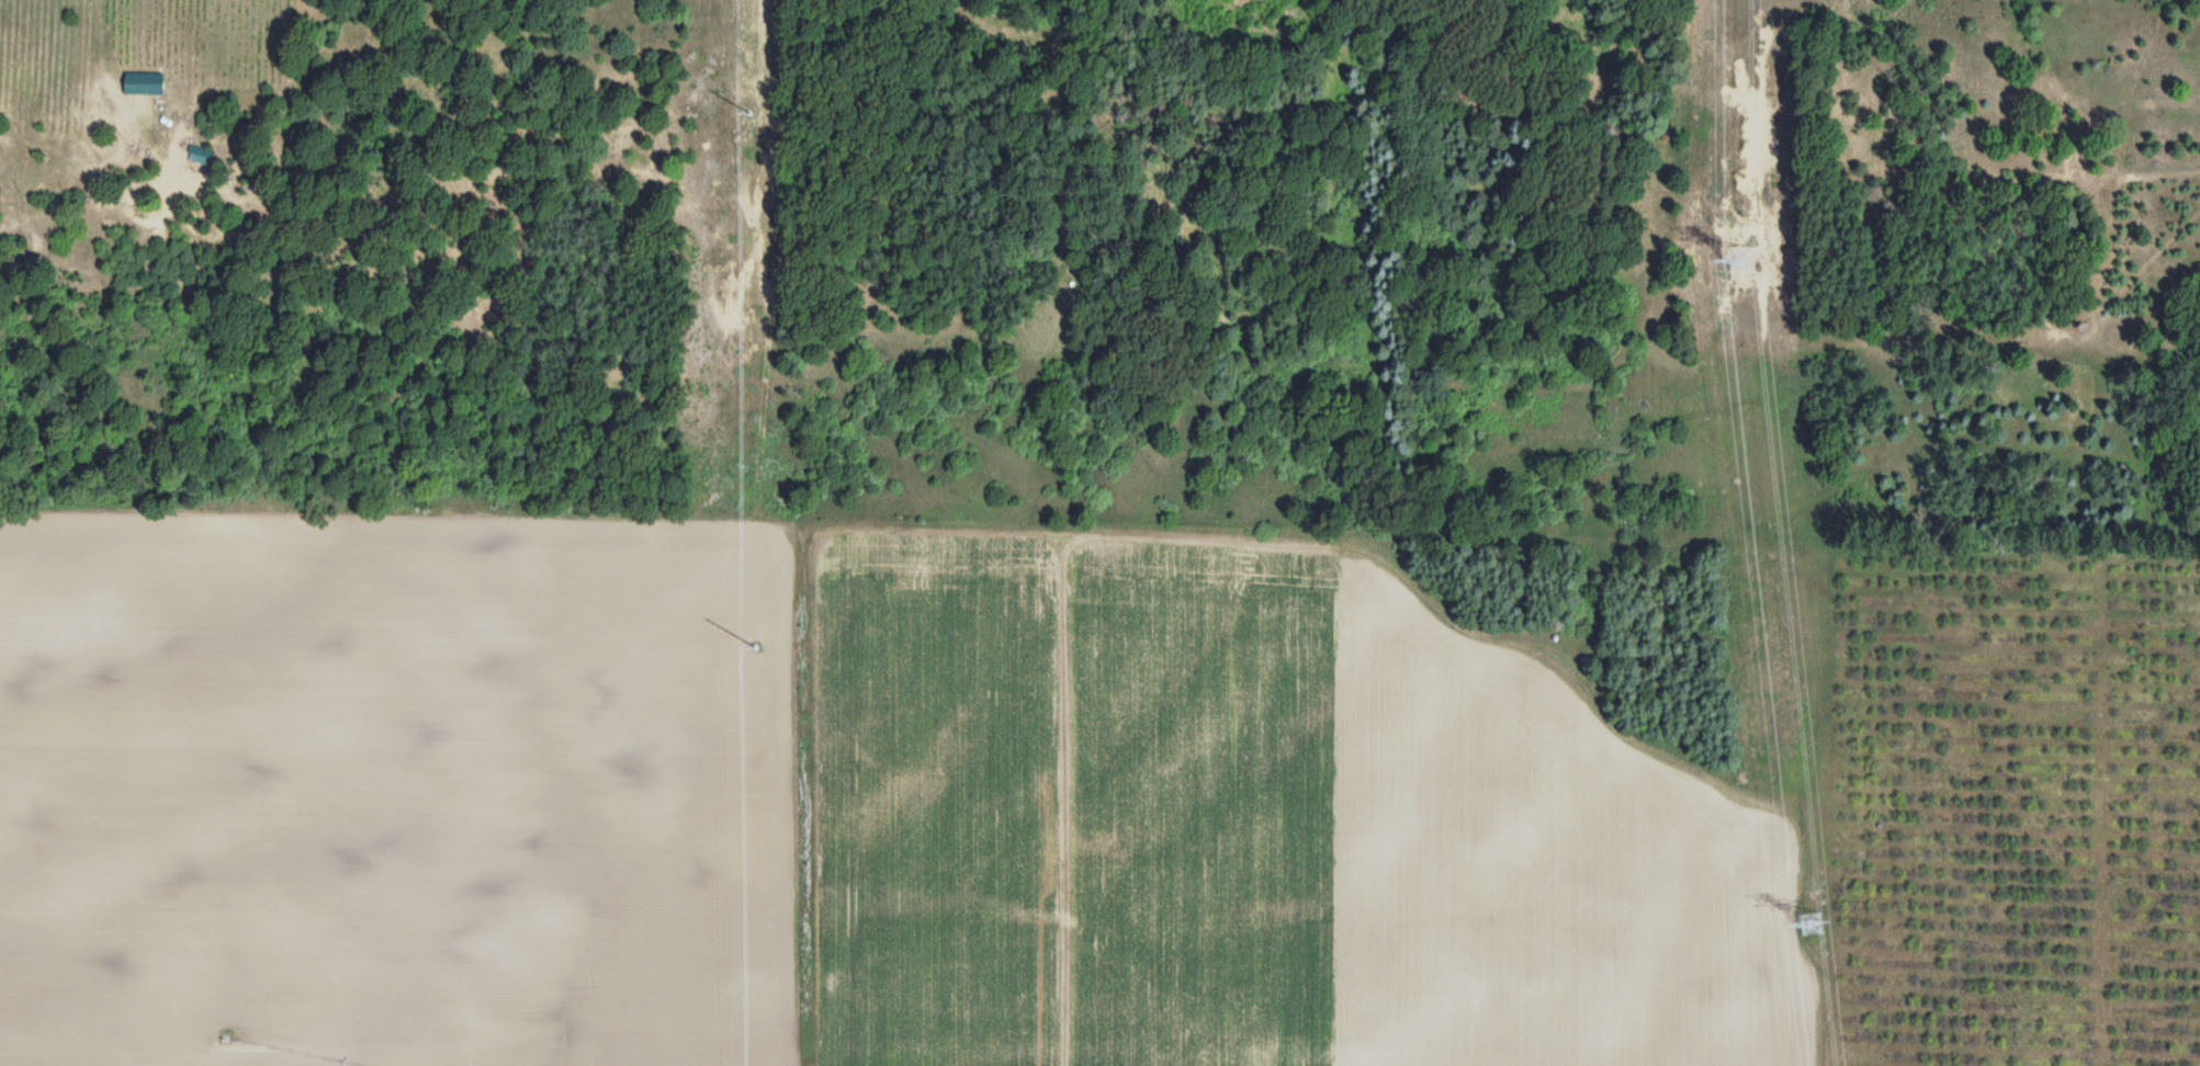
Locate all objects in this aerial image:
power tower: (1744, 260)
power tower: (1814, 925)

